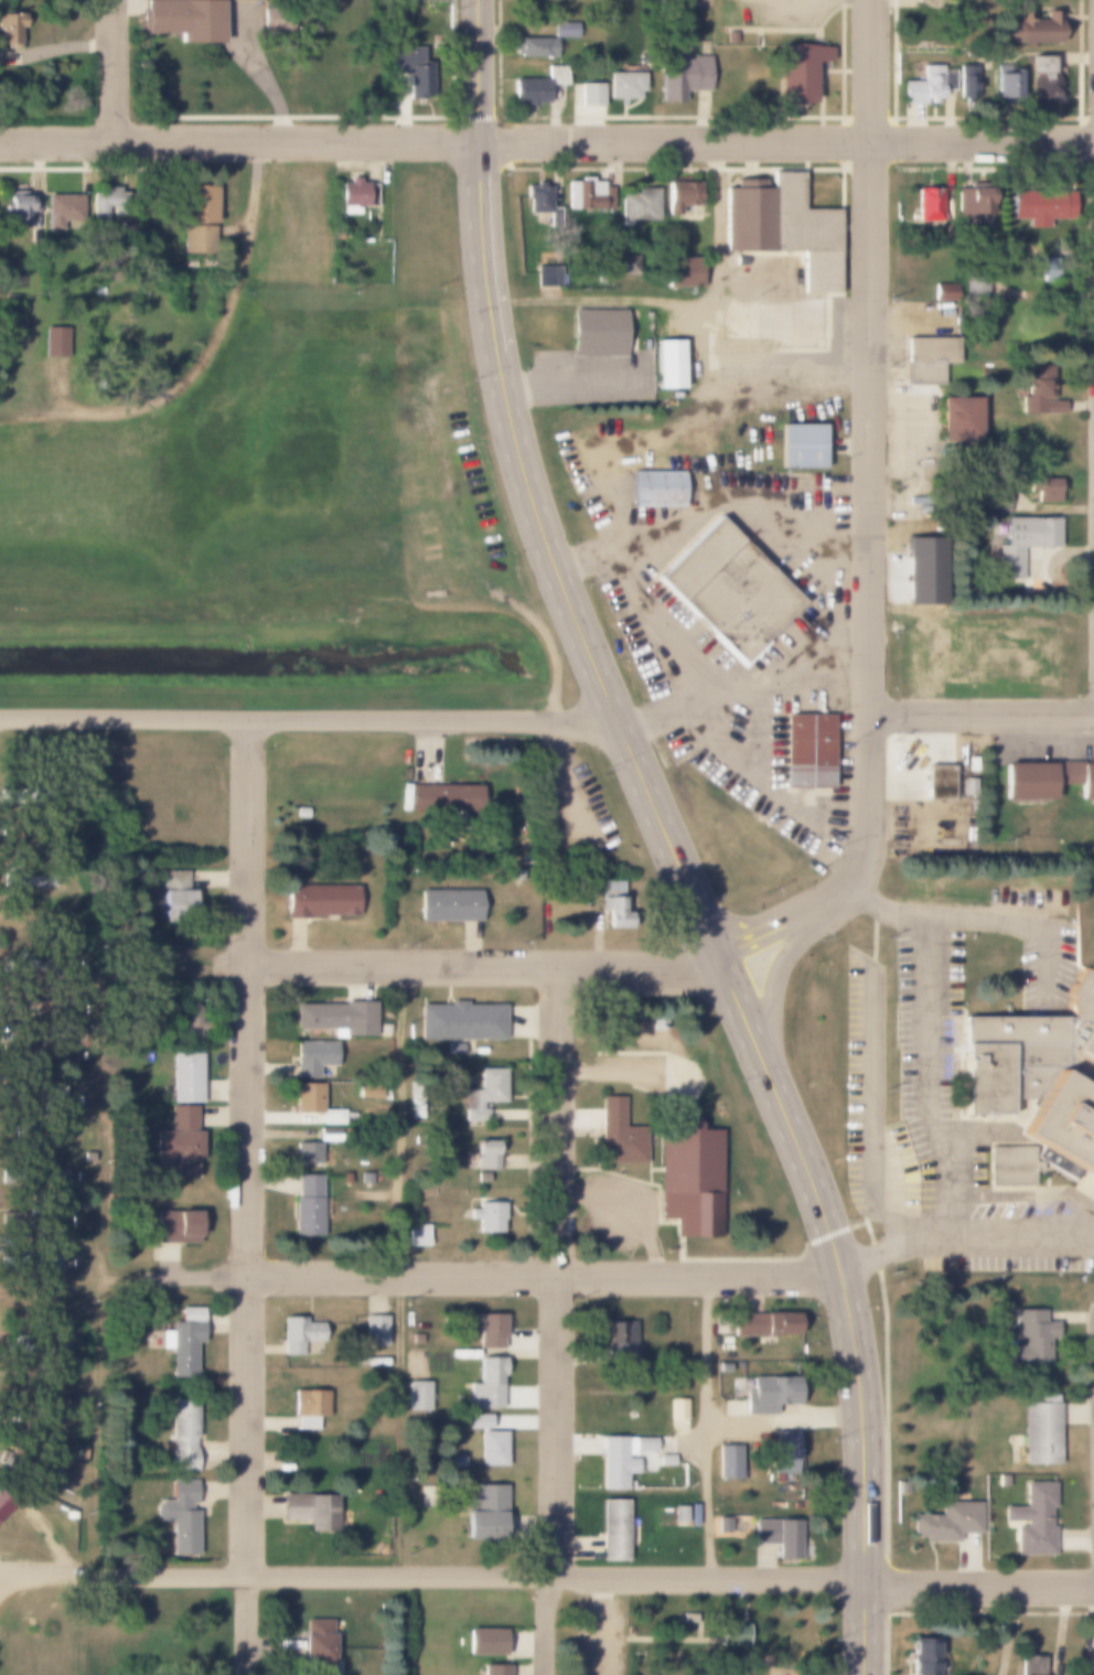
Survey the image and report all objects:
park: (43, 3)
building: (182, 20)
building: (1029, 28)
building: (9, 29)
building: (565, 29)
building: (728, 37)
building: (533, 47)
building: (140, 65)
road: (115, 69)
building: (410, 69)
road: (475, 69)
building: (796, 72)
building: (558, 75)
building: (680, 78)
building: (1041, 78)
building: (967, 82)
building: (927, 85)
building: (1007, 85)
building: (624, 86)
building: (528, 90)
building: (590, 95)
road: (547, 140)
building: (587, 194)
building: (353, 195)
building: (680, 196)
building: (537, 197)
building: (99, 200)
building: (973, 202)
building: (639, 204)
building: (927, 205)
building: (112, 206)
building: (1039, 206)
building: (17, 210)
building: (61, 211)
building: (196, 219)
building: (782, 226)
road: (480, 246)
building: (622, 265)
building: (1048, 270)
building: (682, 272)
building: (548, 277)
building: (975, 282)
building: (97, 289)
building: (941, 291)
building: (597, 333)
building: (54, 342)
road: (210, 346)
building: (929, 357)
building: (667, 364)
building: (96, 385)
road: (56, 386)
road: (783, 386)
building: (1039, 391)
building: (957, 439)
building: (800, 445)
building: (656, 488)
building: (1043, 491)
building: (997, 500)
road: (870, 518)
road: (543, 540)
building: (1022, 543)
building: (730, 591)
building: (988, 653)
road: (741, 683)
road: (982, 715)
road: (308, 724)
building: (811, 751)
building: (1048, 781)
building: (939, 783)
building: (26, 794)
building: (446, 797)
building: (301, 812)
parking lot: (573, 813)
road: (664, 839)
building: (516, 874)
building: (26, 880)
building: (175, 898)
building: (320, 900)
building: (613, 903)
building: (449, 905)
road: (979, 923)
building: (29, 964)
building: (65, 965)
road: (484, 971)
road: (774, 981)
building: (74, 1005)
building: (32, 1006)
building: (336, 1017)
building: (460, 1021)
building: (189, 1022)
building: (383, 1030)
building: (25, 1049)
building: (311, 1057)
building: (77, 1071)
building: (1039, 1075)
building: (185, 1077)
road: (926, 1081)
parking lot: (945, 1084)
building: (31, 1092)
building: (368, 1092)
building: (485, 1093)
building: (415, 1100)
building: (314, 1104)
building: (58, 1106)
road: (781, 1109)
road: (866, 1110)
building: (22, 1134)
building: (620, 1134)
building: (178, 1141)
road: (94, 1150)
building: (307, 1153)
building: (486, 1155)
building: (88, 1157)
building: (1012, 1167)
building: (32, 1175)
building: (481, 1177)
building: (345, 1178)
building: (366, 1178)
building: (689, 1178)
road: (249, 1199)
building: (307, 1206)
building: (487, 1216)
building: (28, 1217)
building: (175, 1226)
building: (417, 1235)
road: (964, 1239)
building: (28, 1261)
road: (405, 1275)
road: (556, 1275)
road: (544, 1277)
road: (172, 1280)
building: (762, 1324)
building: (490, 1330)
building: (375, 1331)
building: (298, 1334)
building: (619, 1336)
building: (1030, 1336)
building: (182, 1341)
building: (23, 1346)
building: (722, 1367)
building: (486, 1384)
building: (425, 1394)
building: (769, 1394)
building: (309, 1407)
building: (684, 1407)
building: (485, 1419)
road: (709, 1429)
building: (1040, 1431)
building: (52, 1435)
building: (182, 1435)
building: (784, 1445)
building: (498, 1447)
building: (79, 1453)
building: (628, 1457)
building: (672, 1458)
building: (728, 1465)
building: (24, 1467)
road: (862, 1470)
building: (6, 1502)
building: (310, 1510)
building: (484, 1513)
building: (685, 1513)
building: (180, 1516)
building: (1032, 1518)
building: (946, 1521)
building: (723, 1524)
building: (620, 1527)
building: (779, 1535)
road: (47, 1577)
road: (594, 1579)
building: (688, 1619)
road: (596, 1624)
road: (551, 1626)
park: (695, 1635)
building: (733, 1635)
parking lot: (597, 1636)
building: (484, 1642)
building: (315, 1646)
building: (925, 1657)
building: (1029, 1664)
building: (494, 1669)

